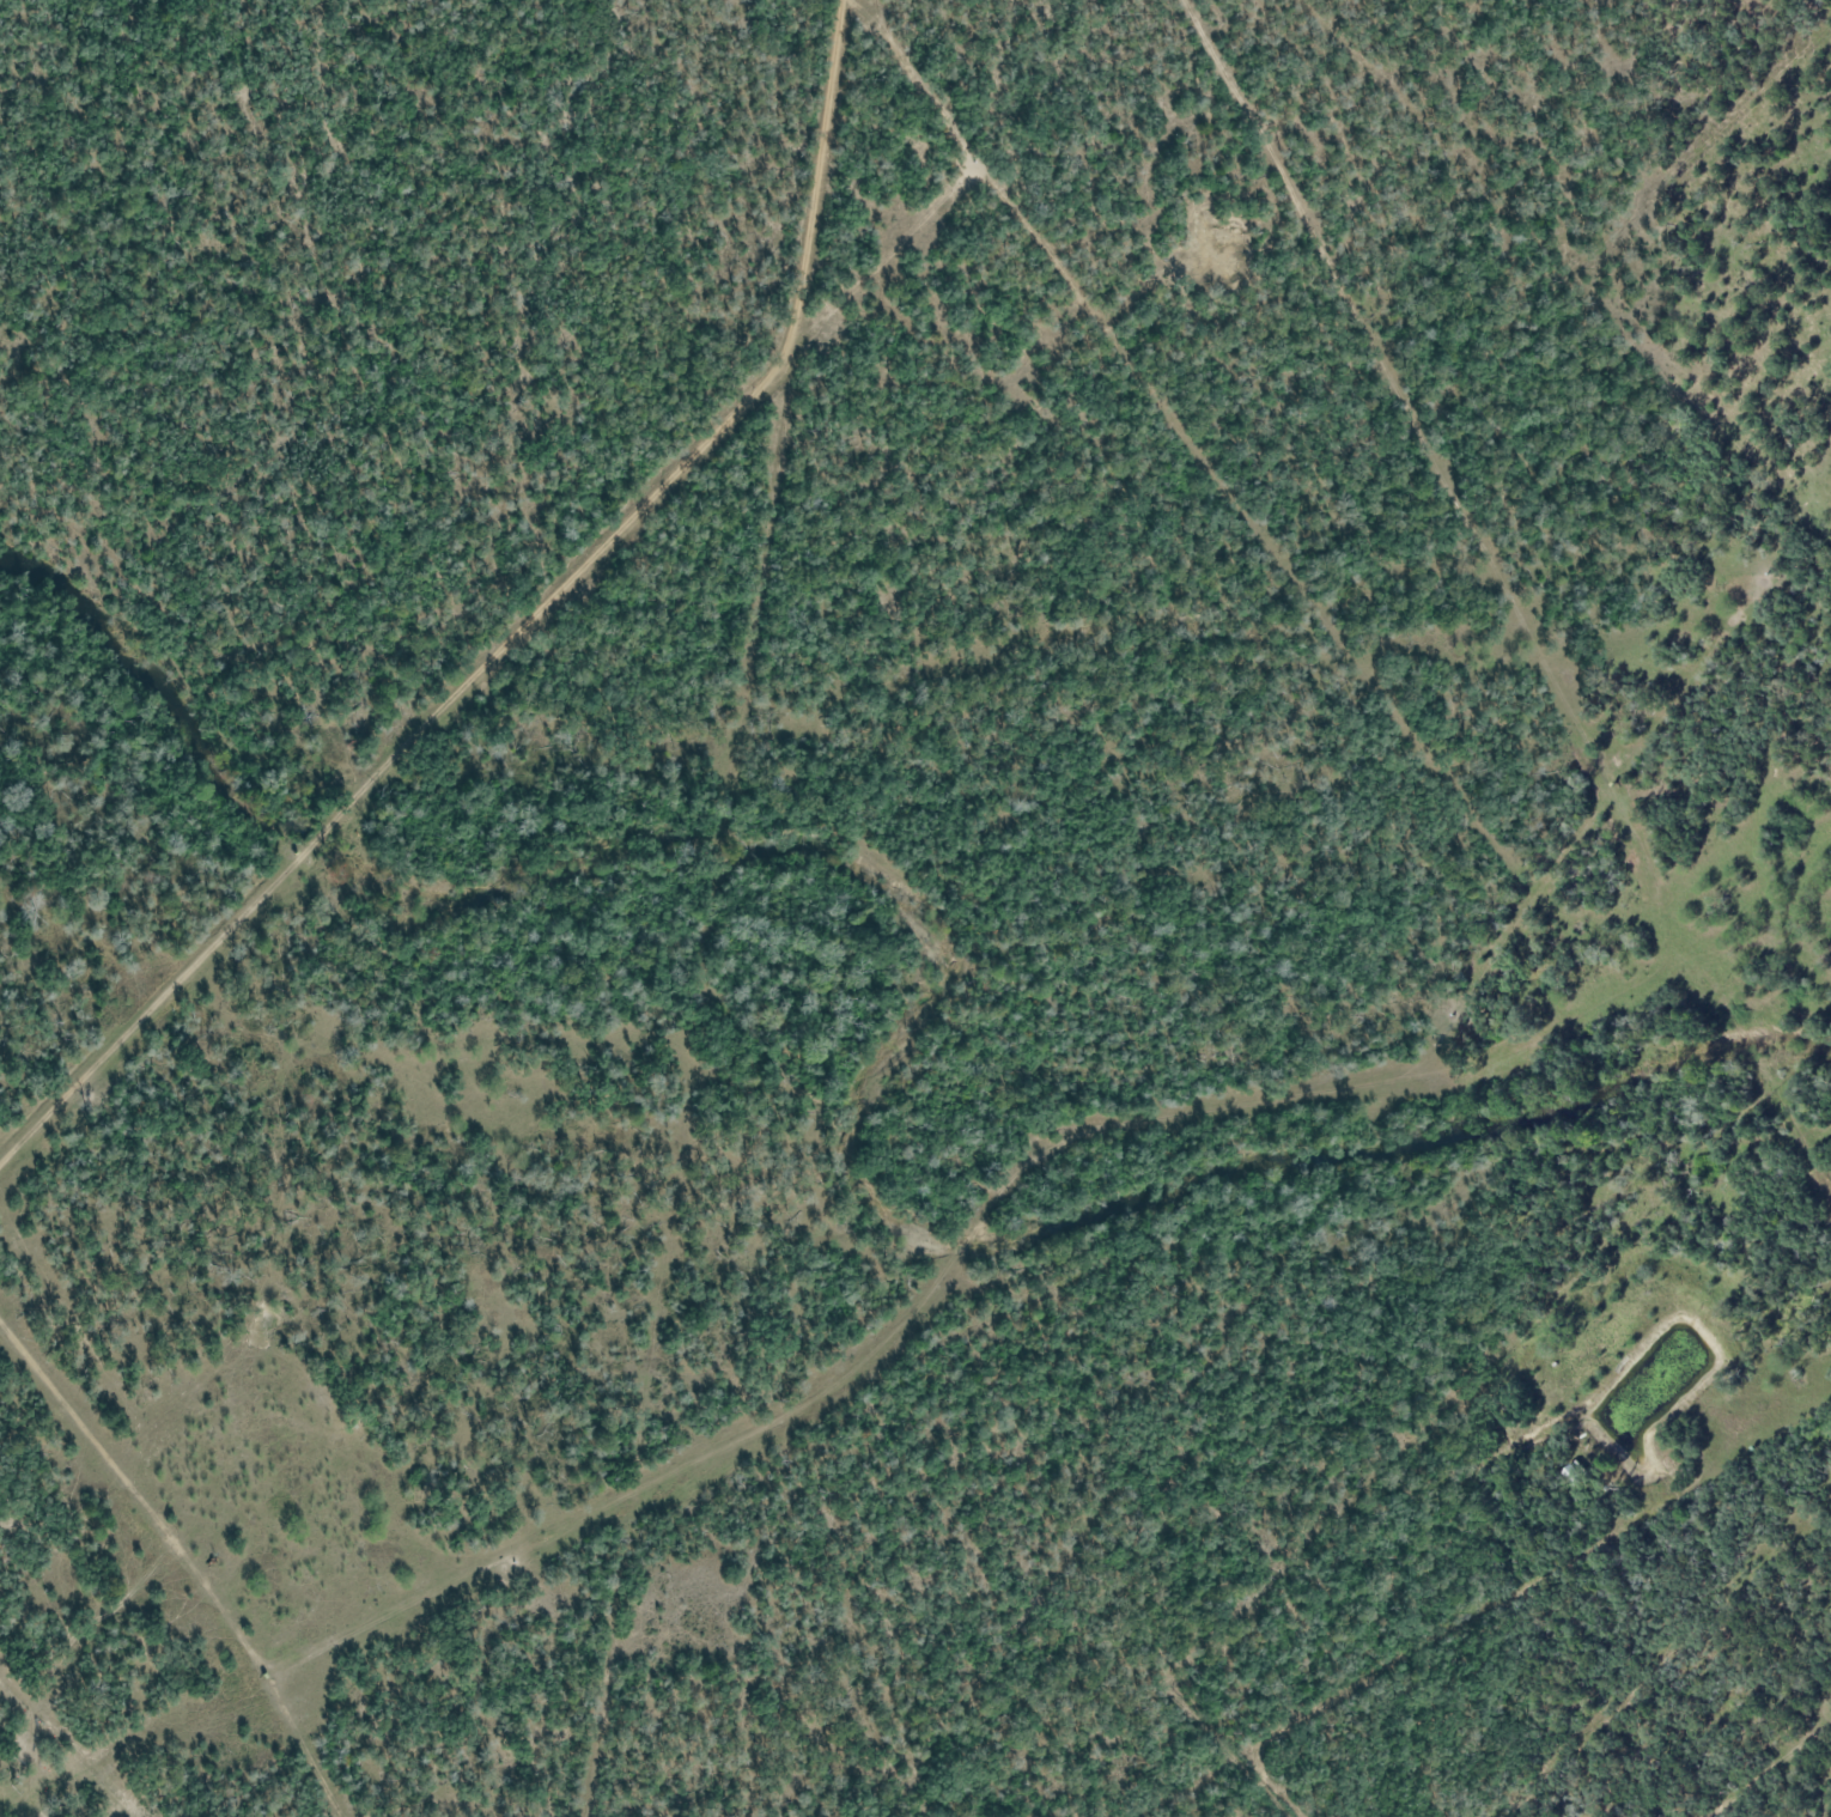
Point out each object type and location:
road: (1772, 1296)
road: (96, 1430)

